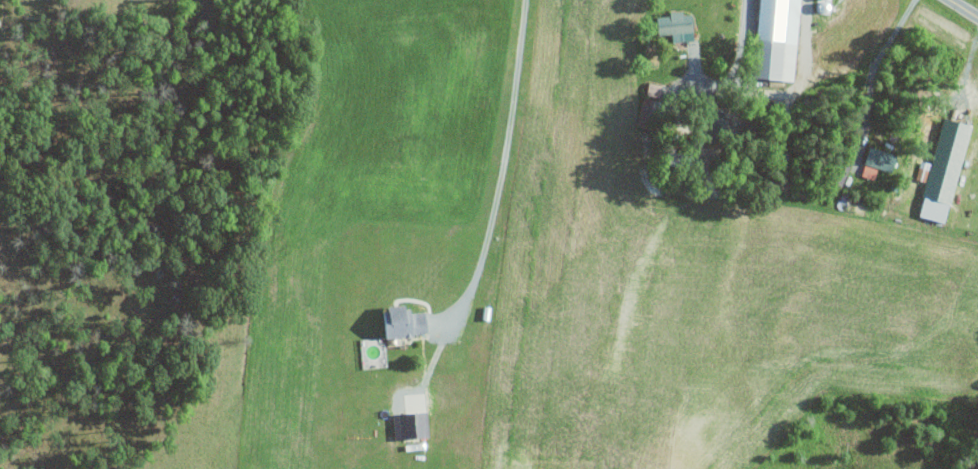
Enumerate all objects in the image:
road: (962, 9)
building: (679, 25)
building: (781, 37)
road: (736, 69)
road: (871, 70)
building: (882, 158)
road: (501, 165)
building: (945, 169)
building: (870, 171)
building: (406, 321)
building: (412, 425)

